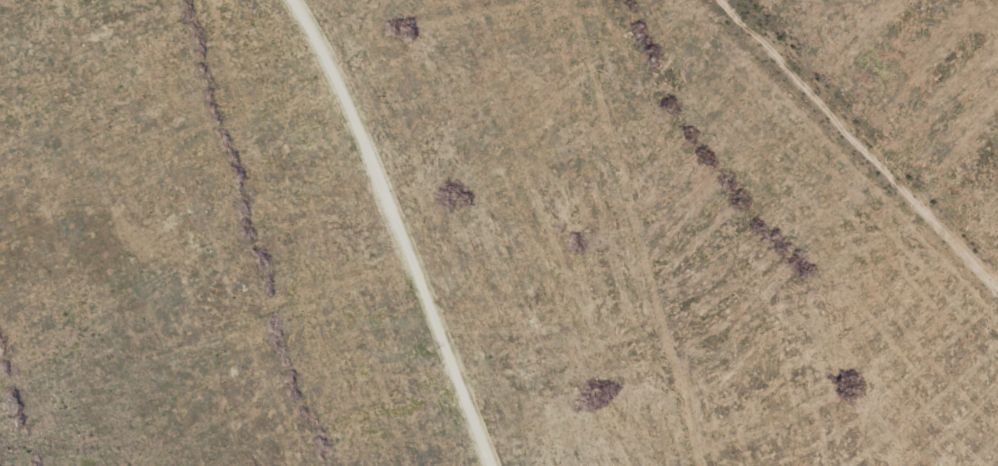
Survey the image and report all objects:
road: (392, 231)

